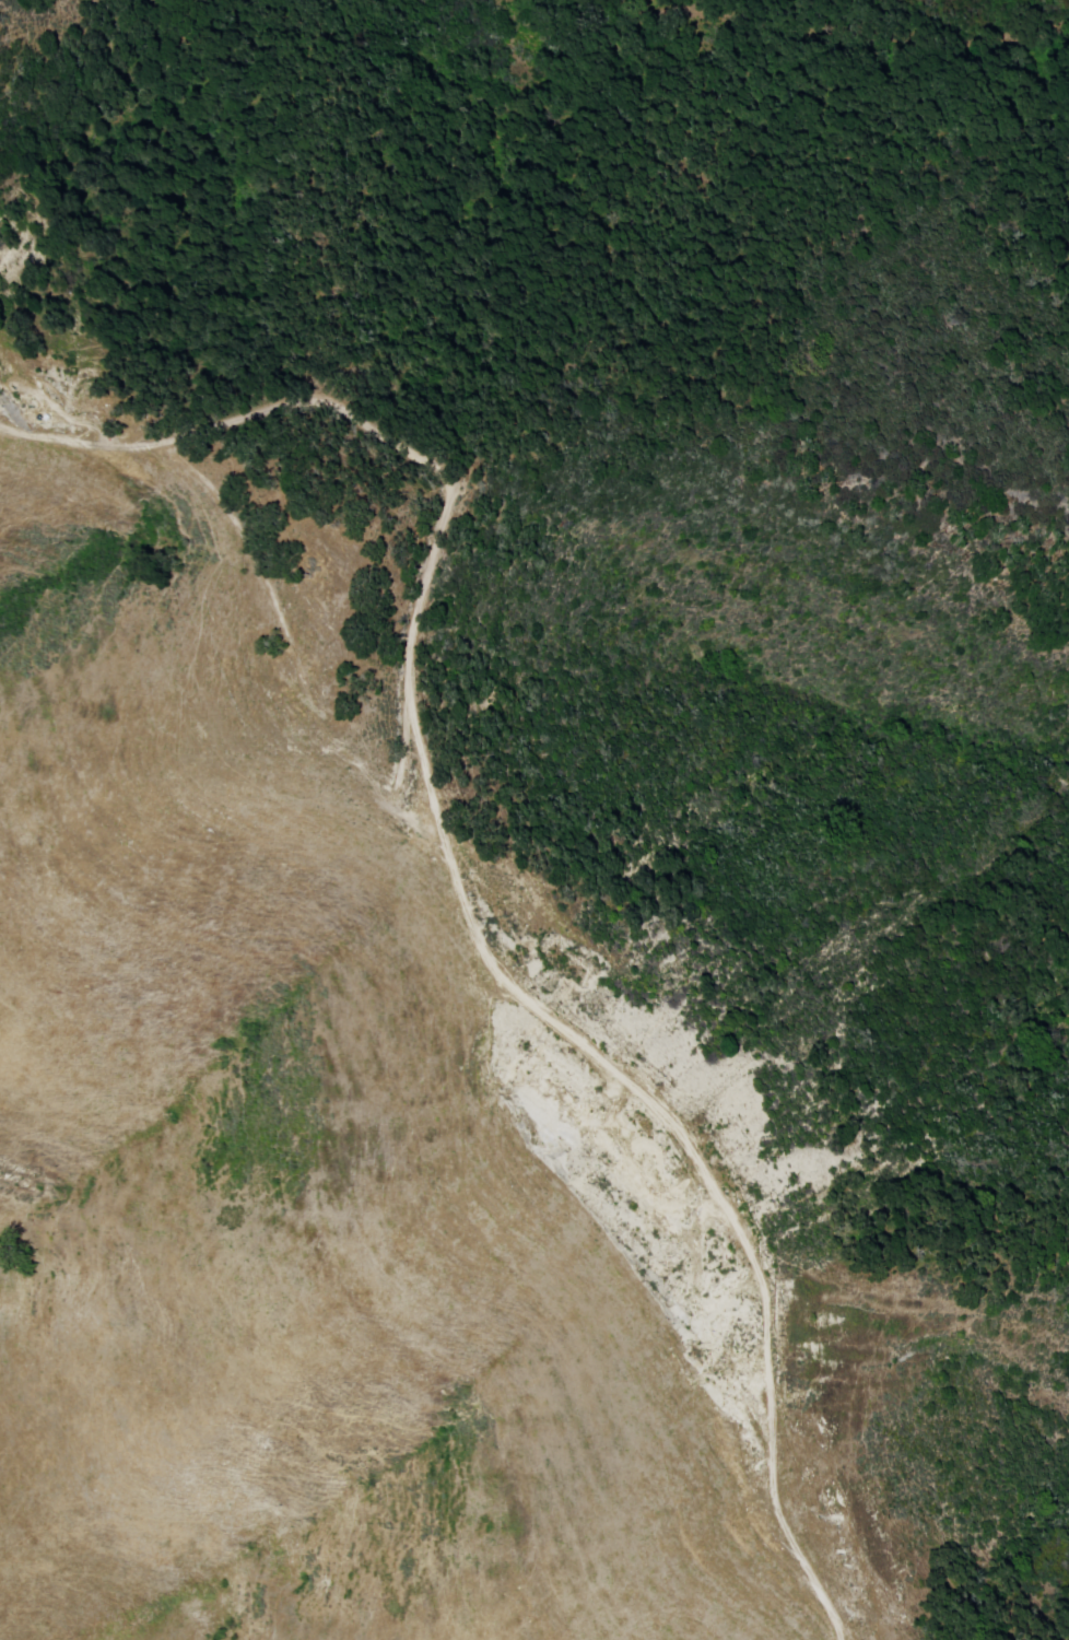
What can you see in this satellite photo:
road: (459, 878)

